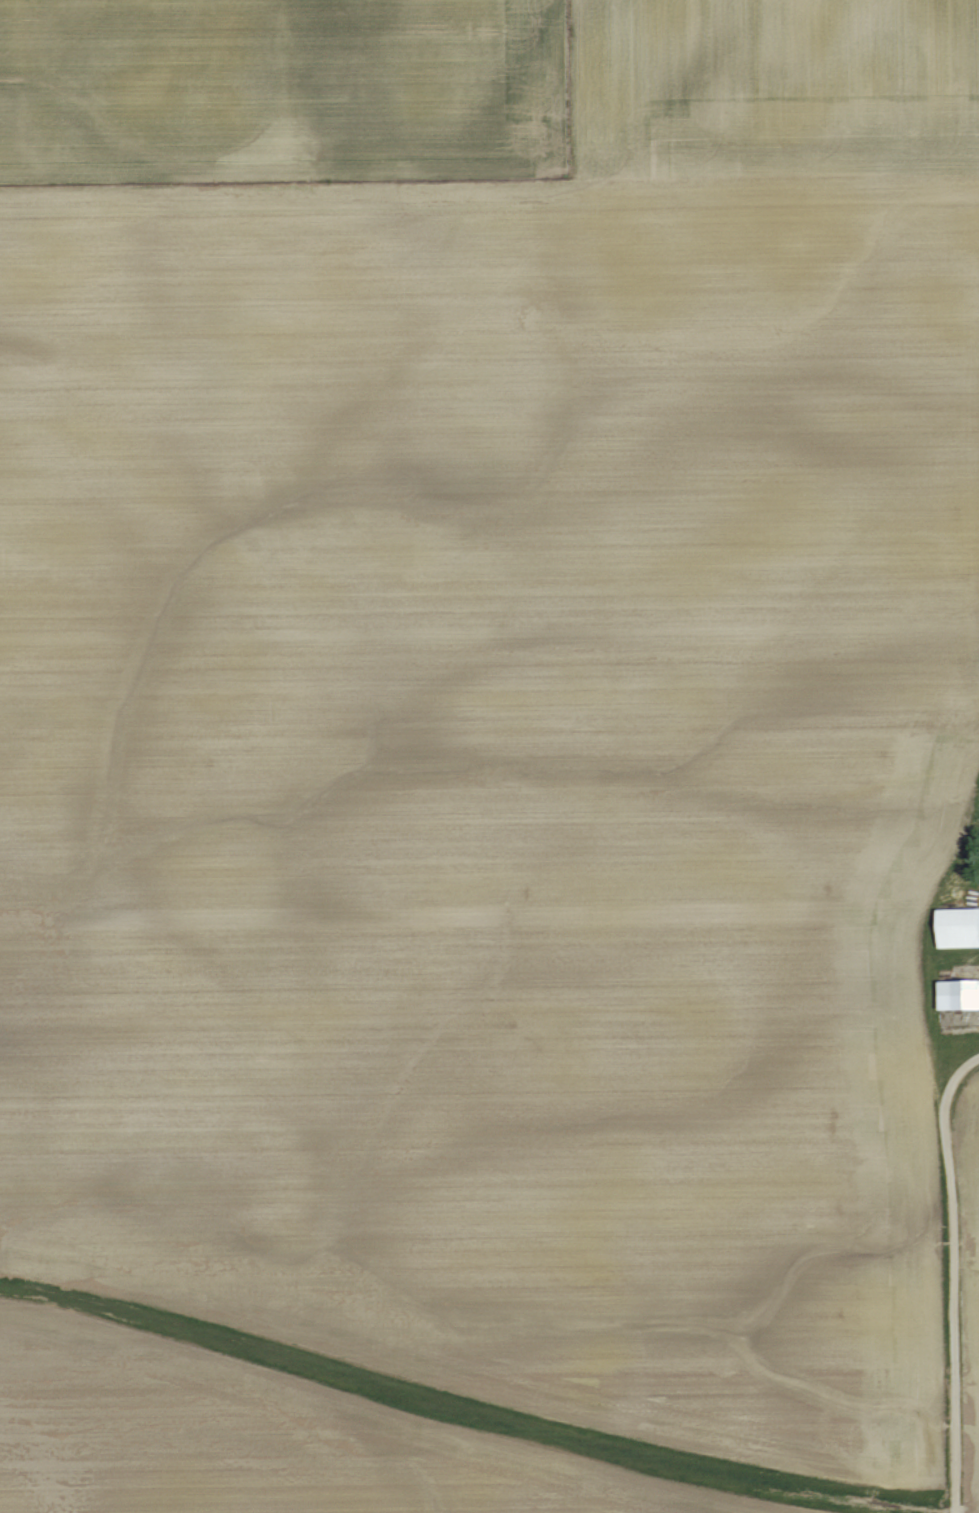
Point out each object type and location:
road: (969, 811)
road: (967, 827)
road: (950, 855)
building: (952, 926)
building: (955, 994)
road: (944, 1272)

